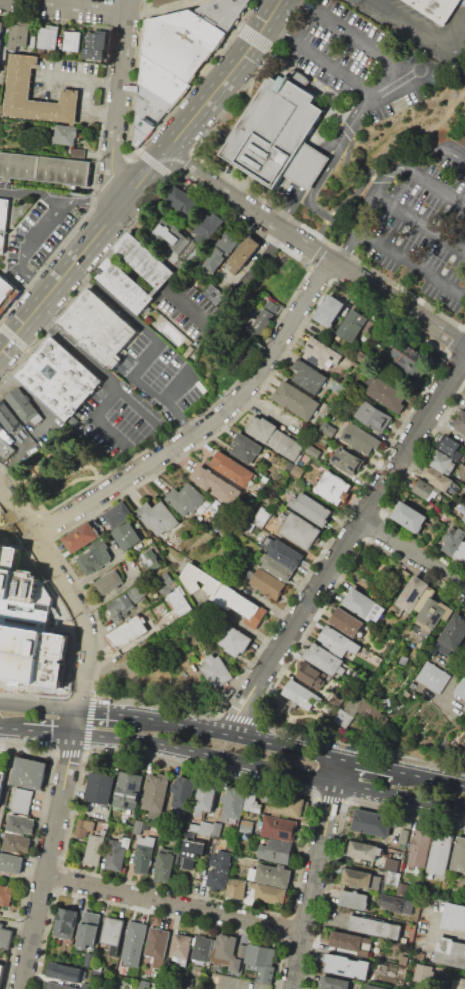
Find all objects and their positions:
road: (8, 1)
building: (162, 2)
road: (29, 3)
road: (129, 6)
road: (85, 8)
building: (439, 9)
building: (223, 11)
parking lot: (422, 21)
building: (199, 27)
building: (18, 35)
road: (426, 35)
building: (2, 36)
road: (355, 36)
building: (48, 37)
building: (32, 40)
building: (72, 41)
building: (95, 46)
building: (173, 48)
parking lot: (359, 59)
road: (320, 61)
building: (161, 79)
road: (85, 80)
road: (225, 80)
road: (400, 80)
building: (18, 89)
building: (151, 104)
road: (85, 111)
road: (117, 111)
road: (351, 127)
building: (141, 129)
building: (274, 131)
building: (66, 135)
building: (463, 140)
road: (435, 151)
road: (354, 163)
building: (306, 167)
building: (44, 169)
road: (312, 170)
road: (143, 181)
road: (434, 183)
road: (31, 192)
road: (309, 197)
building: (184, 201)
road: (92, 204)
road: (290, 207)
road: (407, 210)
road: (369, 214)
road: (139, 218)
building: (3, 220)
road: (322, 221)
building: (209, 227)
parking lot: (419, 227)
building: (171, 235)
road: (24, 248)
building: (222, 249)
road: (314, 250)
road: (349, 250)
road: (85, 251)
building: (243, 253)
road: (413, 268)
park: (269, 274)
building: (158, 275)
building: (6, 291)
building: (211, 293)
road: (227, 297)
parking lot: (187, 309)
building: (329, 310)
road: (41, 318)
building: (261, 320)
building: (353, 325)
road: (24, 326)
building: (99, 327)
road: (153, 347)
building: (317, 351)
road: (84, 354)
road: (0, 355)
building: (362, 356)
building: (408, 356)
parking lot: (158, 373)
building: (309, 376)
building: (59, 377)
road: (179, 387)
road: (125, 388)
building: (463, 392)
building: (388, 395)
building: (296, 399)
building: (22, 405)
parking lot: (118, 415)
building: (8, 416)
building: (373, 416)
road: (199, 417)
road: (206, 422)
building: (460, 422)
building: (263, 428)
building: (0, 429)
building: (326, 429)
road: (108, 431)
building: (38, 435)
building: (359, 439)
building: (286, 444)
building: (451, 446)
building: (246, 448)
building: (5, 449)
building: (313, 452)
building: (347, 461)
building: (442, 462)
park: (64, 466)
building: (233, 469)
building: (295, 469)
road: (62, 475)
road: (75, 478)
building: (436, 478)
road: (17, 484)
building: (214, 484)
building: (332, 487)
building: (426, 490)
road: (39, 498)
building: (186, 500)
building: (314, 509)
building: (463, 509)
road: (32, 511)
road: (18, 512)
building: (118, 515)
building: (157, 517)
building: (261, 517)
building: (410, 517)
building: (463, 518)
road: (4, 520)
road: (44, 526)
building: (271, 529)
building: (301, 530)
building: (128, 536)
building: (81, 537)
building: (454, 540)
road: (347, 547)
building: (461, 550)
building: (285, 553)
road: (414, 553)
building: (95, 559)
building: (150, 560)
building: (277, 568)
building: (109, 582)
building: (206, 582)
building: (267, 583)
building: (166, 584)
building: (143, 590)
building: (413, 593)
building: (180, 602)
building: (359, 602)
building: (120, 607)
building: (248, 609)
building: (432, 613)
building: (171, 618)
road: (70, 622)
building: (346, 622)
building: (28, 625)
building: (453, 632)
building: (127, 633)
building: (235, 638)
building: (338, 642)
building: (324, 659)
road: (110, 668)
building: (215, 670)
building: (311, 675)
building: (434, 677)
road: (453, 680)
building: (461, 688)
road: (78, 692)
building: (301, 695)
building: (338, 697)
road: (437, 697)
building: (354, 703)
road: (40, 705)
road: (110, 713)
building: (367, 713)
building: (343, 718)
road: (77, 725)
road: (10, 730)
road: (48, 733)
road: (241, 736)
road: (181, 750)
road: (370, 764)
road: (9, 773)
building: (29, 773)
road: (431, 776)
road: (311, 778)
building: (2, 780)
building: (101, 788)
building: (129, 790)
building: (156, 792)
building: (183, 792)
road: (400, 797)
building: (205, 799)
building: (21, 800)
building: (252, 803)
building: (232, 804)
building: (289, 806)
building: (372, 822)
building: (21, 824)
building: (247, 826)
building: (83, 827)
building: (193, 827)
building: (206, 828)
building: (279, 828)
building: (217, 829)
building: (404, 836)
building: (17, 843)
building: (94, 849)
building: (365, 849)
building: (419, 849)
building: (276, 850)
building: (191, 852)
building: (117, 853)
building: (144, 854)
building: (440, 854)
building: (459, 856)
building: (223, 857)
building: (11, 862)
building: (392, 864)
building: (166, 865)
road: (316, 873)
building: (271, 875)
building: (218, 877)
building: (393, 877)
building: (361, 878)
building: (237, 887)
building: (402, 889)
building: (271, 894)
building: (6, 895)
building: (354, 899)
road: (175, 904)
building: (396, 904)
road: (326, 916)
building: (453, 916)
building: (66, 923)
building: (374, 927)
road: (433, 928)
building: (89, 930)
building: (113, 930)
road: (449, 932)
building: (5, 936)
building: (345, 941)
building: (158, 942)
building: (134, 945)
building: (181, 946)
building: (203, 948)
building: (242, 949)
building: (223, 952)
building: (449, 952)
building: (89, 960)
building: (404, 960)
building: (261, 961)
building: (346, 965)
building: (236, 966)
building: (1, 971)
building: (65, 972)
building: (425, 973)
building: (188, 982)
parking lot: (232, 983)
building: (334, 983)
building: (458, 984)
building: (56, 986)
building: (164, 986)
building: (375, 986)

